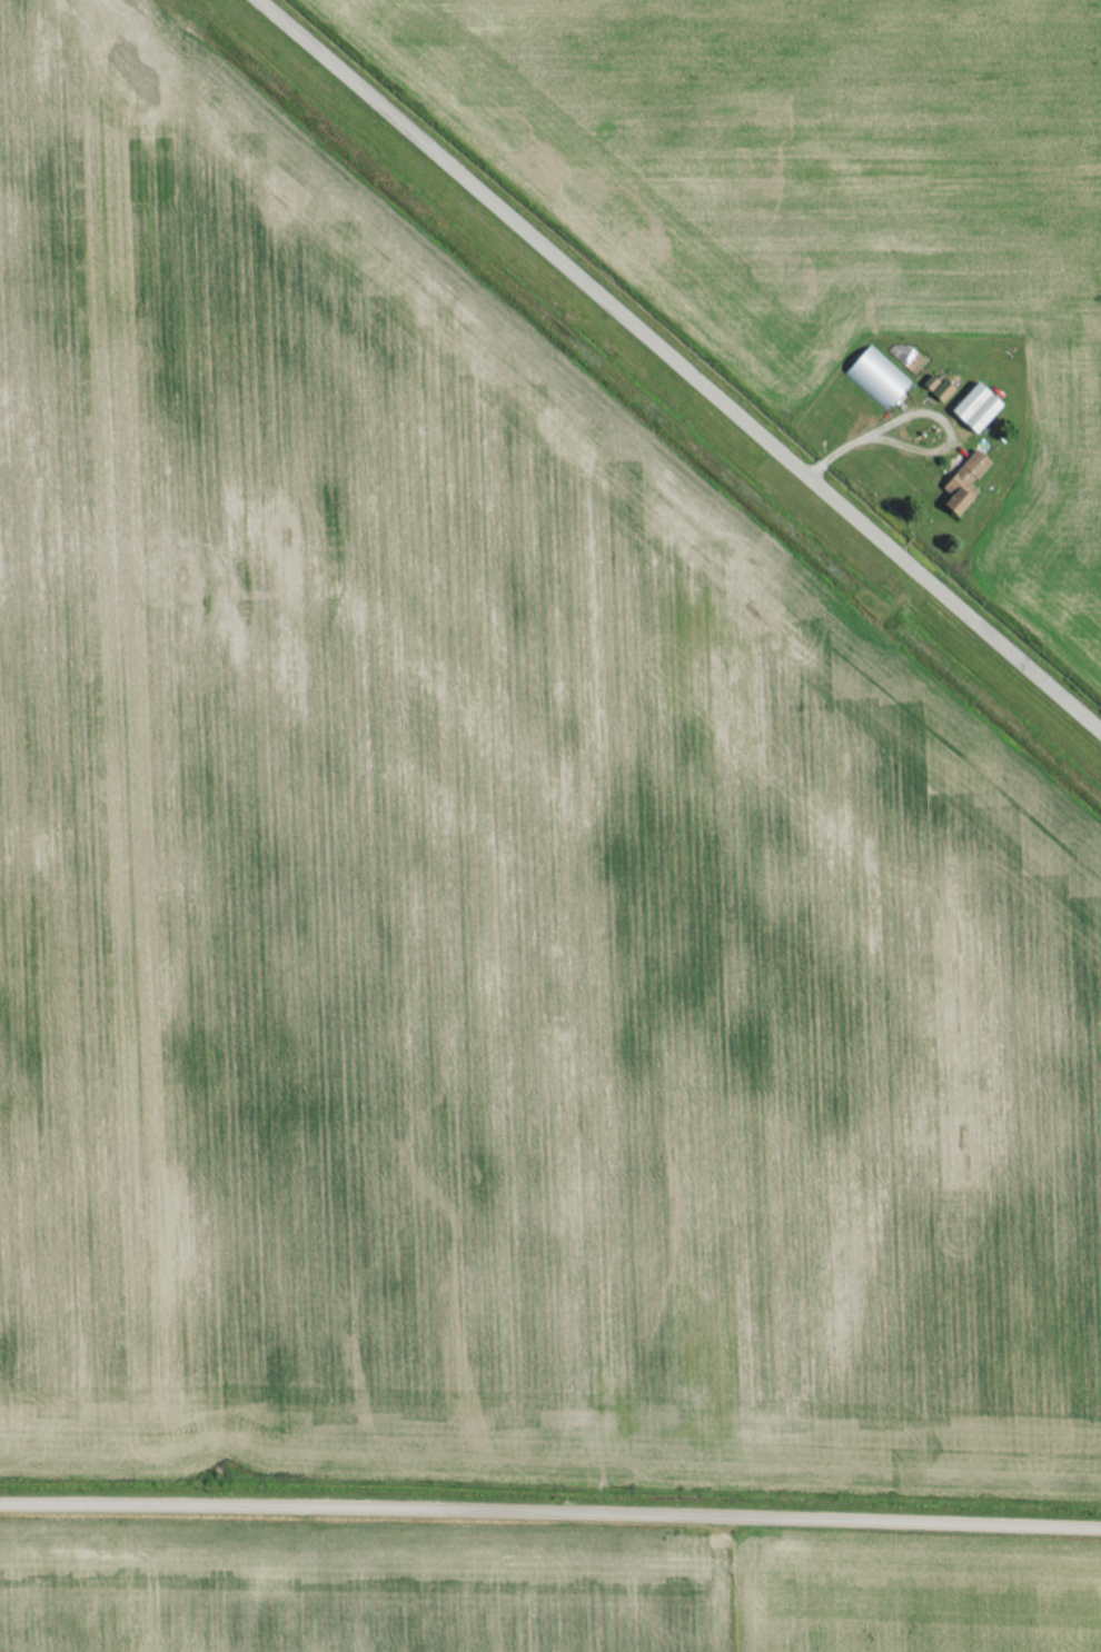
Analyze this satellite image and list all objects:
crop: (827, 200)
road: (681, 364)
building: (873, 378)
railway: (633, 405)
building: (973, 406)
road: (922, 411)
building: (972, 462)
crop: (478, 884)
road: (550, 1509)
crop: (356, 1591)
crop: (911, 1596)

